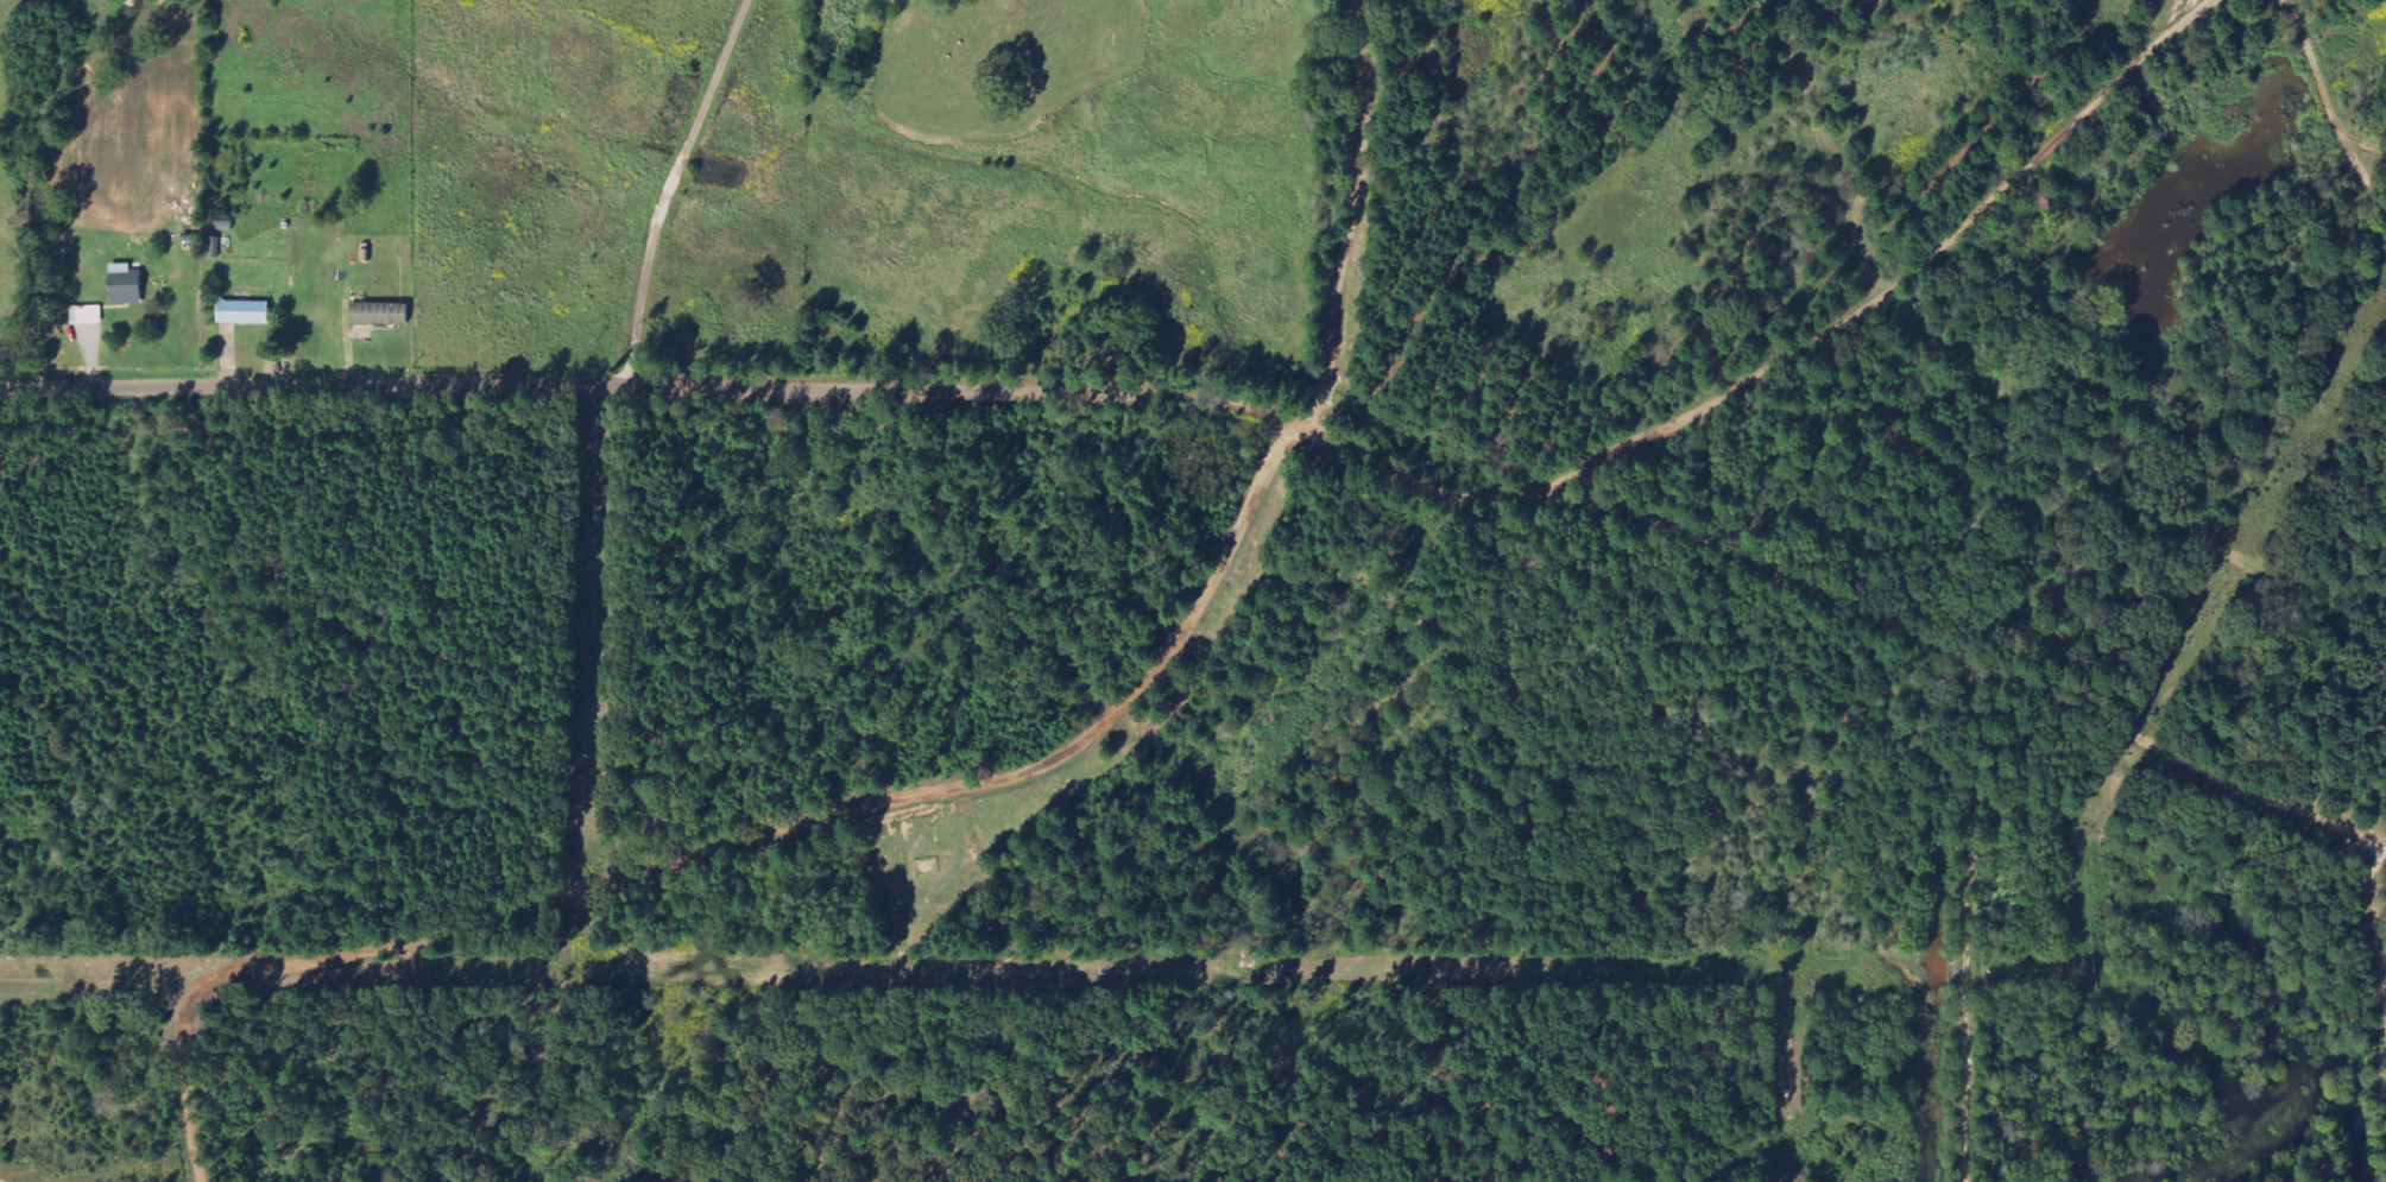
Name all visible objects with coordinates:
road: (671, 188)
road: (1351, 217)
building: (214, 248)
building: (124, 286)
road: (1888, 291)
building: (241, 314)
building: (86, 316)
building: (378, 316)
road: (655, 386)
road: (1854, 609)
road: (731, 847)

